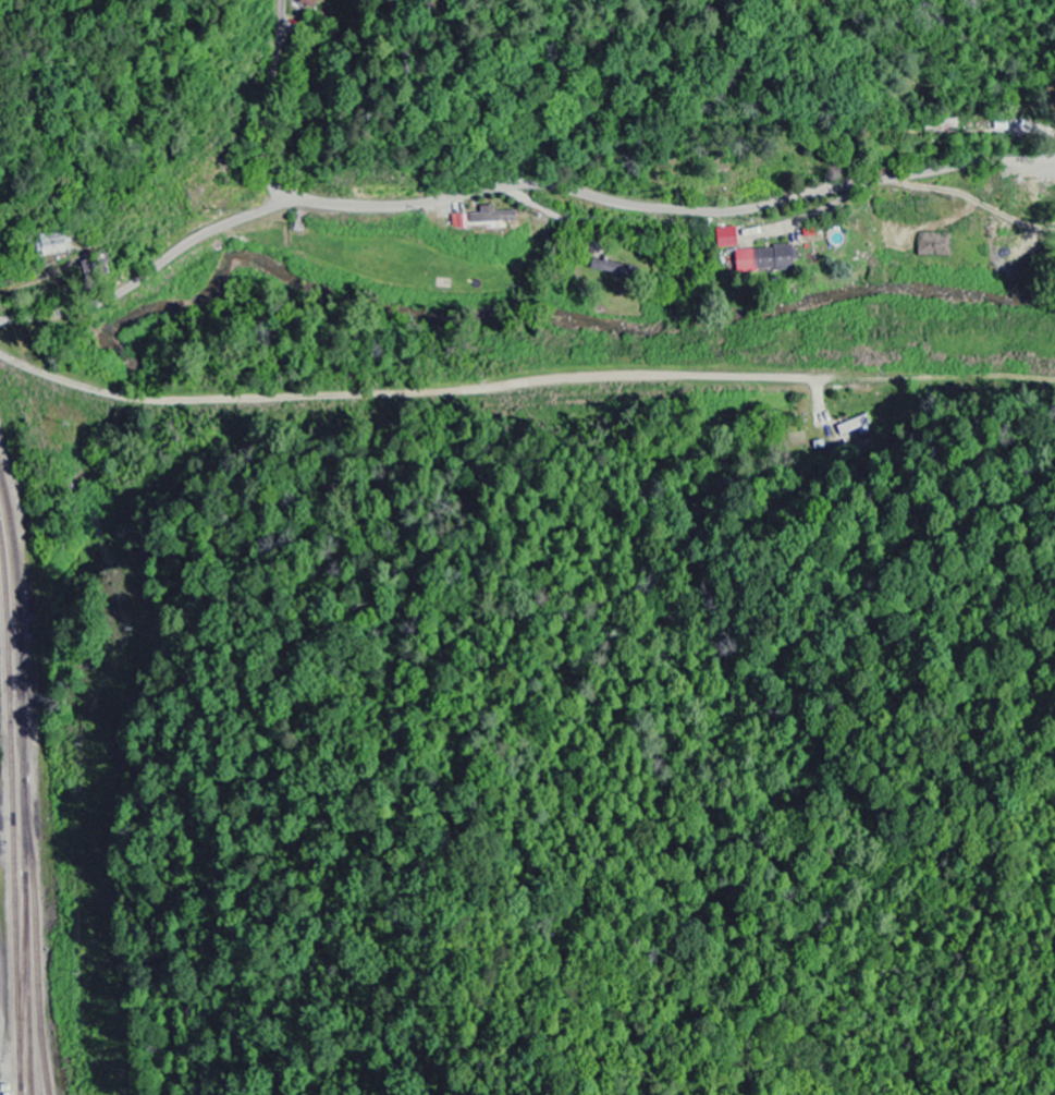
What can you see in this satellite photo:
building: (308, 3)
road: (265, 117)
road: (516, 186)
building: (490, 217)
building: (458, 221)
building: (809, 233)
building: (725, 239)
building: (56, 246)
building: (762, 260)
road: (40, 277)
road: (446, 388)
railway: (489, 403)
railway: (168, 407)
railway: (64, 580)
railway: (17, 783)
railway: (9, 824)
road: (1, 1011)

